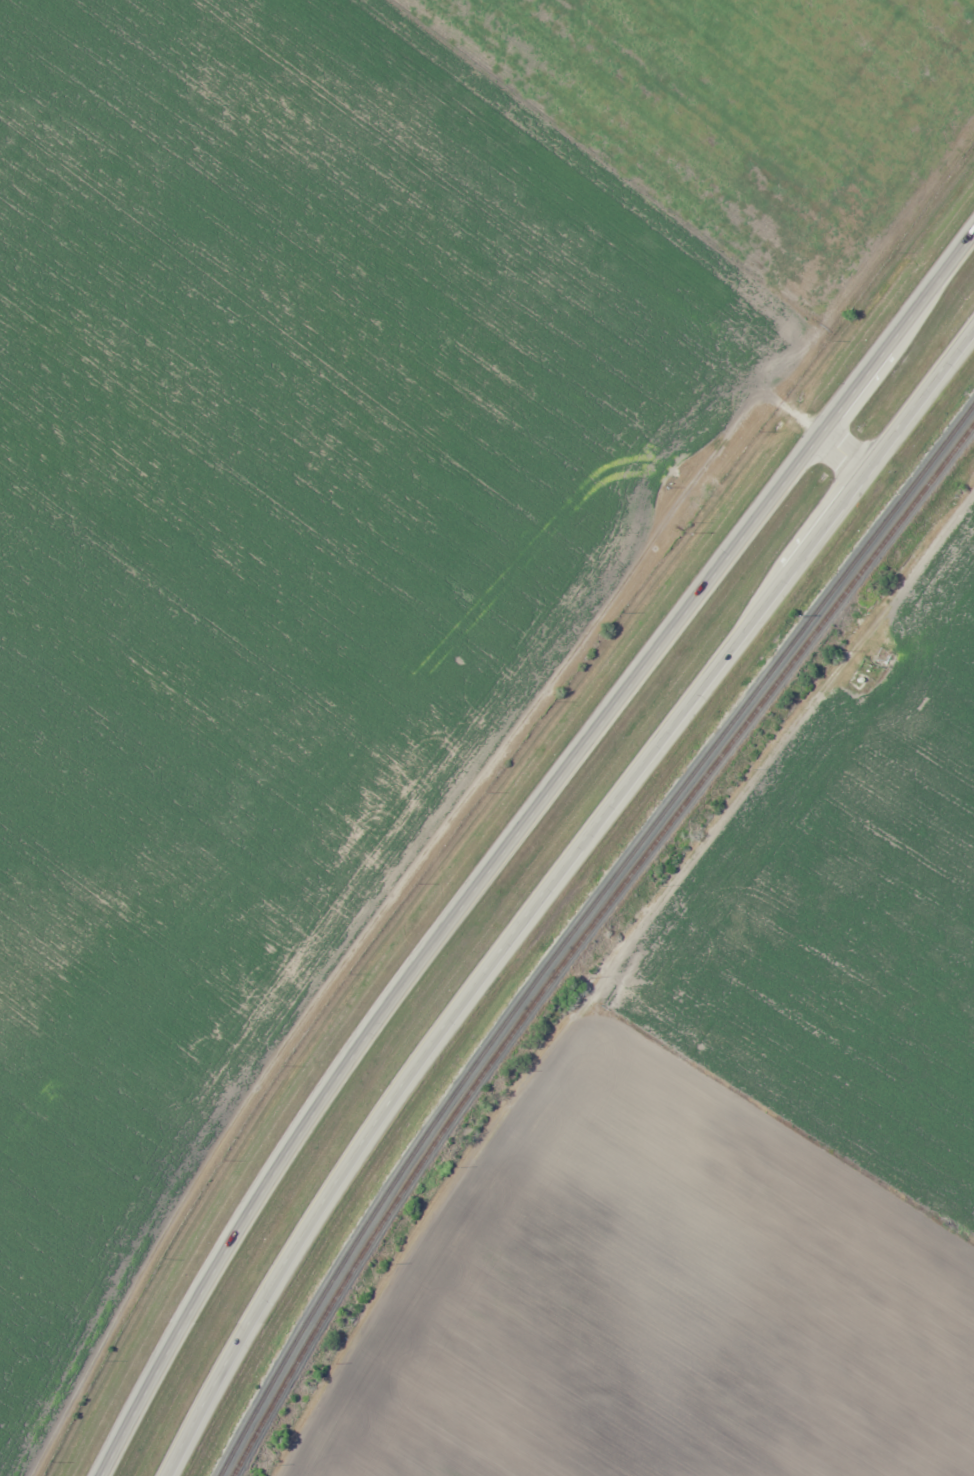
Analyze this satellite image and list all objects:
road: (845, 451)
road: (511, 837)
road: (550, 885)
railway: (582, 937)

